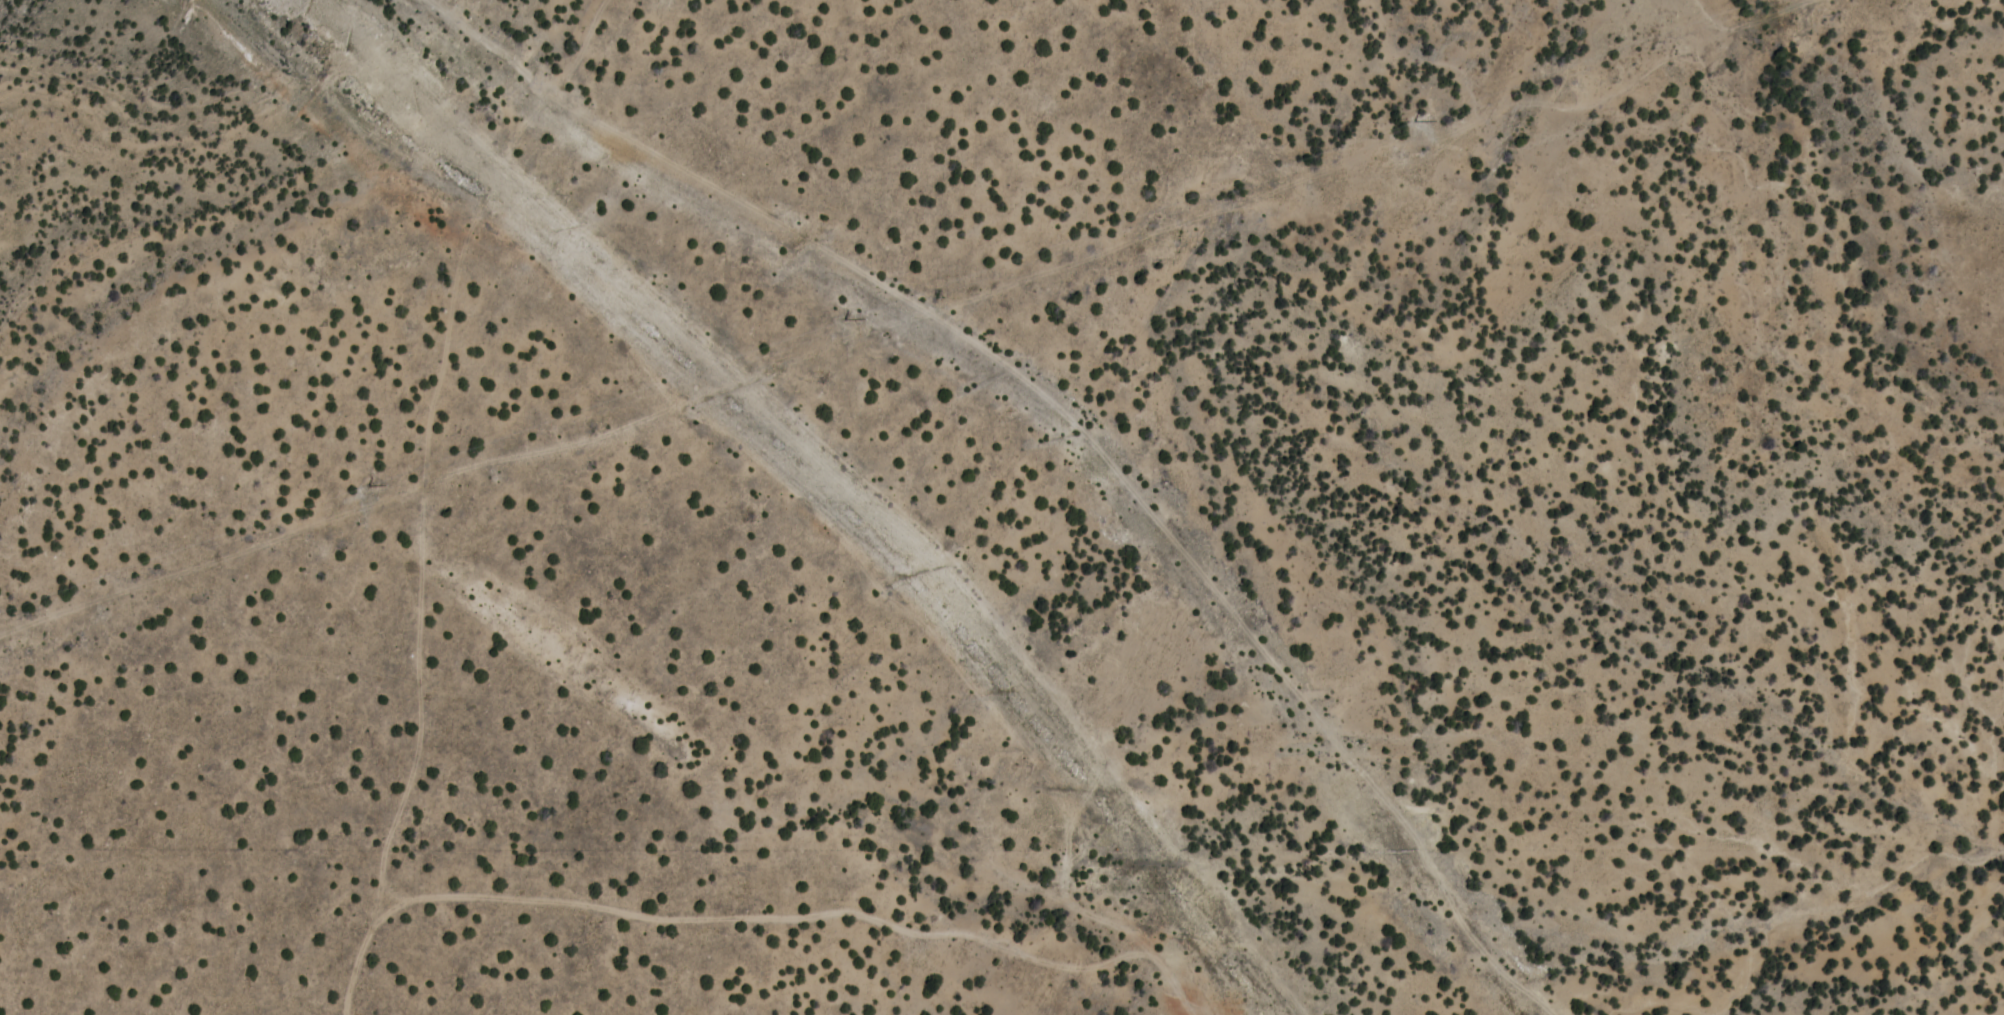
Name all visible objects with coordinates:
road: (993, 670)
road: (243, 1010)

